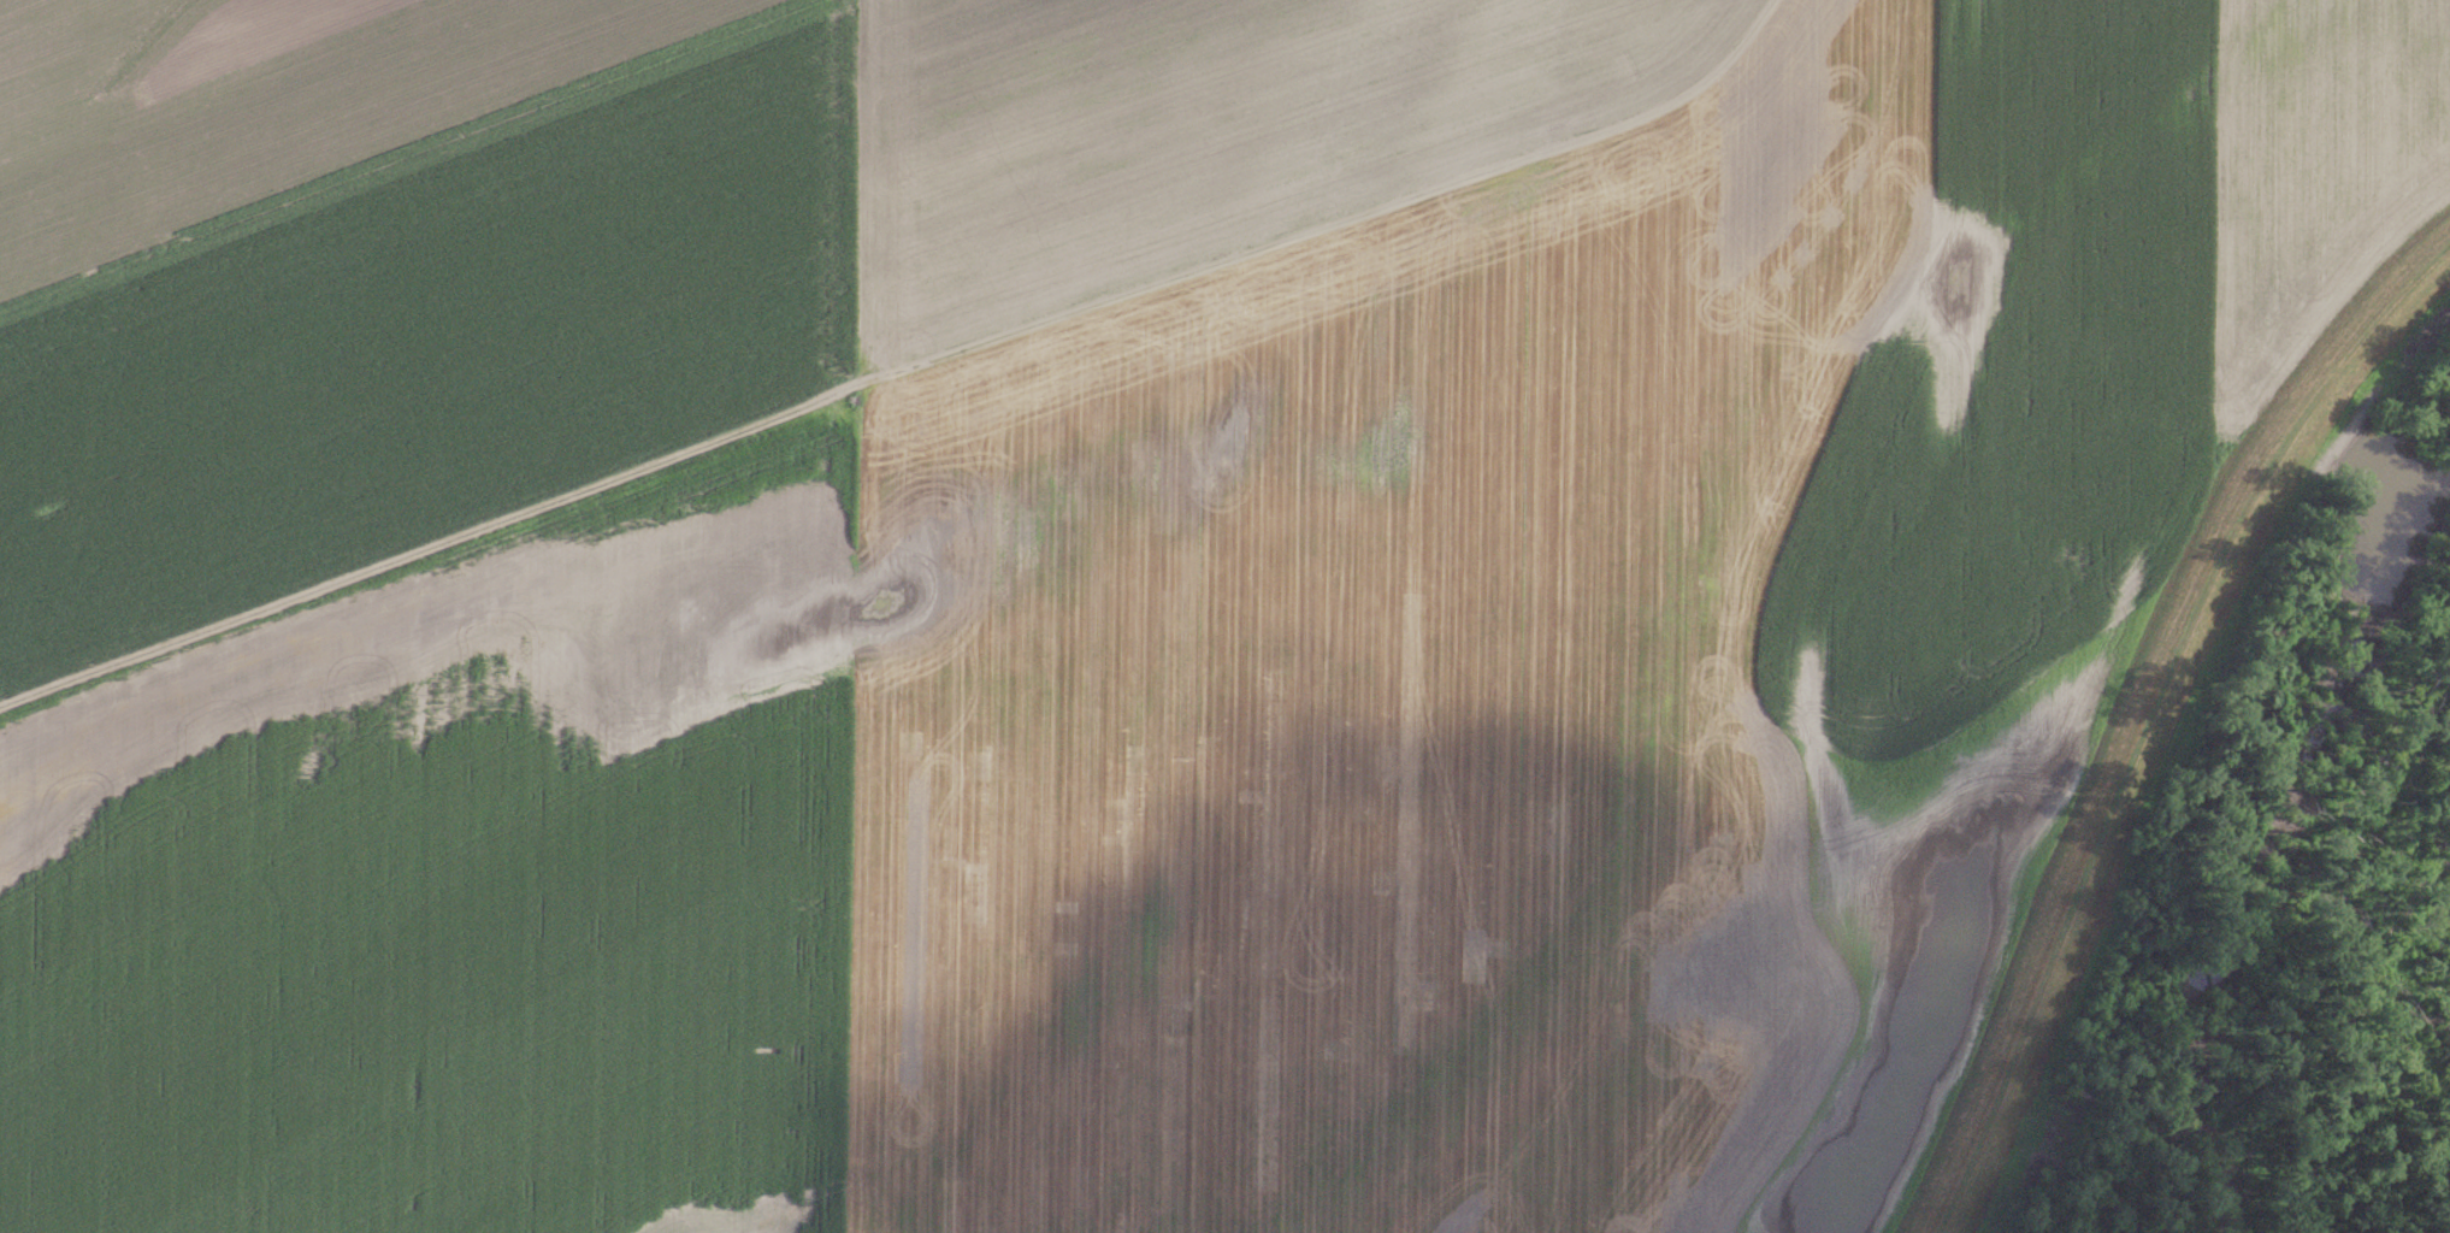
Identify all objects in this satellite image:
road: (2154, 719)

